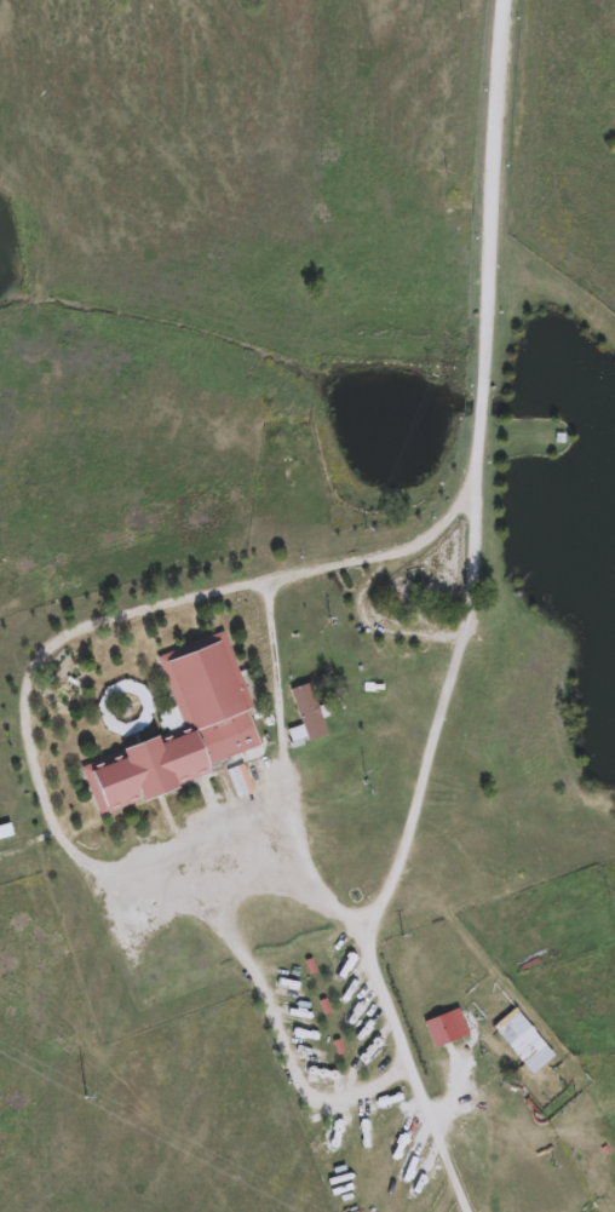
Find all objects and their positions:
road: (490, 242)
building: (315, 713)
road: (449, 717)
road: (294, 729)
building: (188, 731)
road: (53, 823)
road: (277, 1024)
building: (527, 1044)

